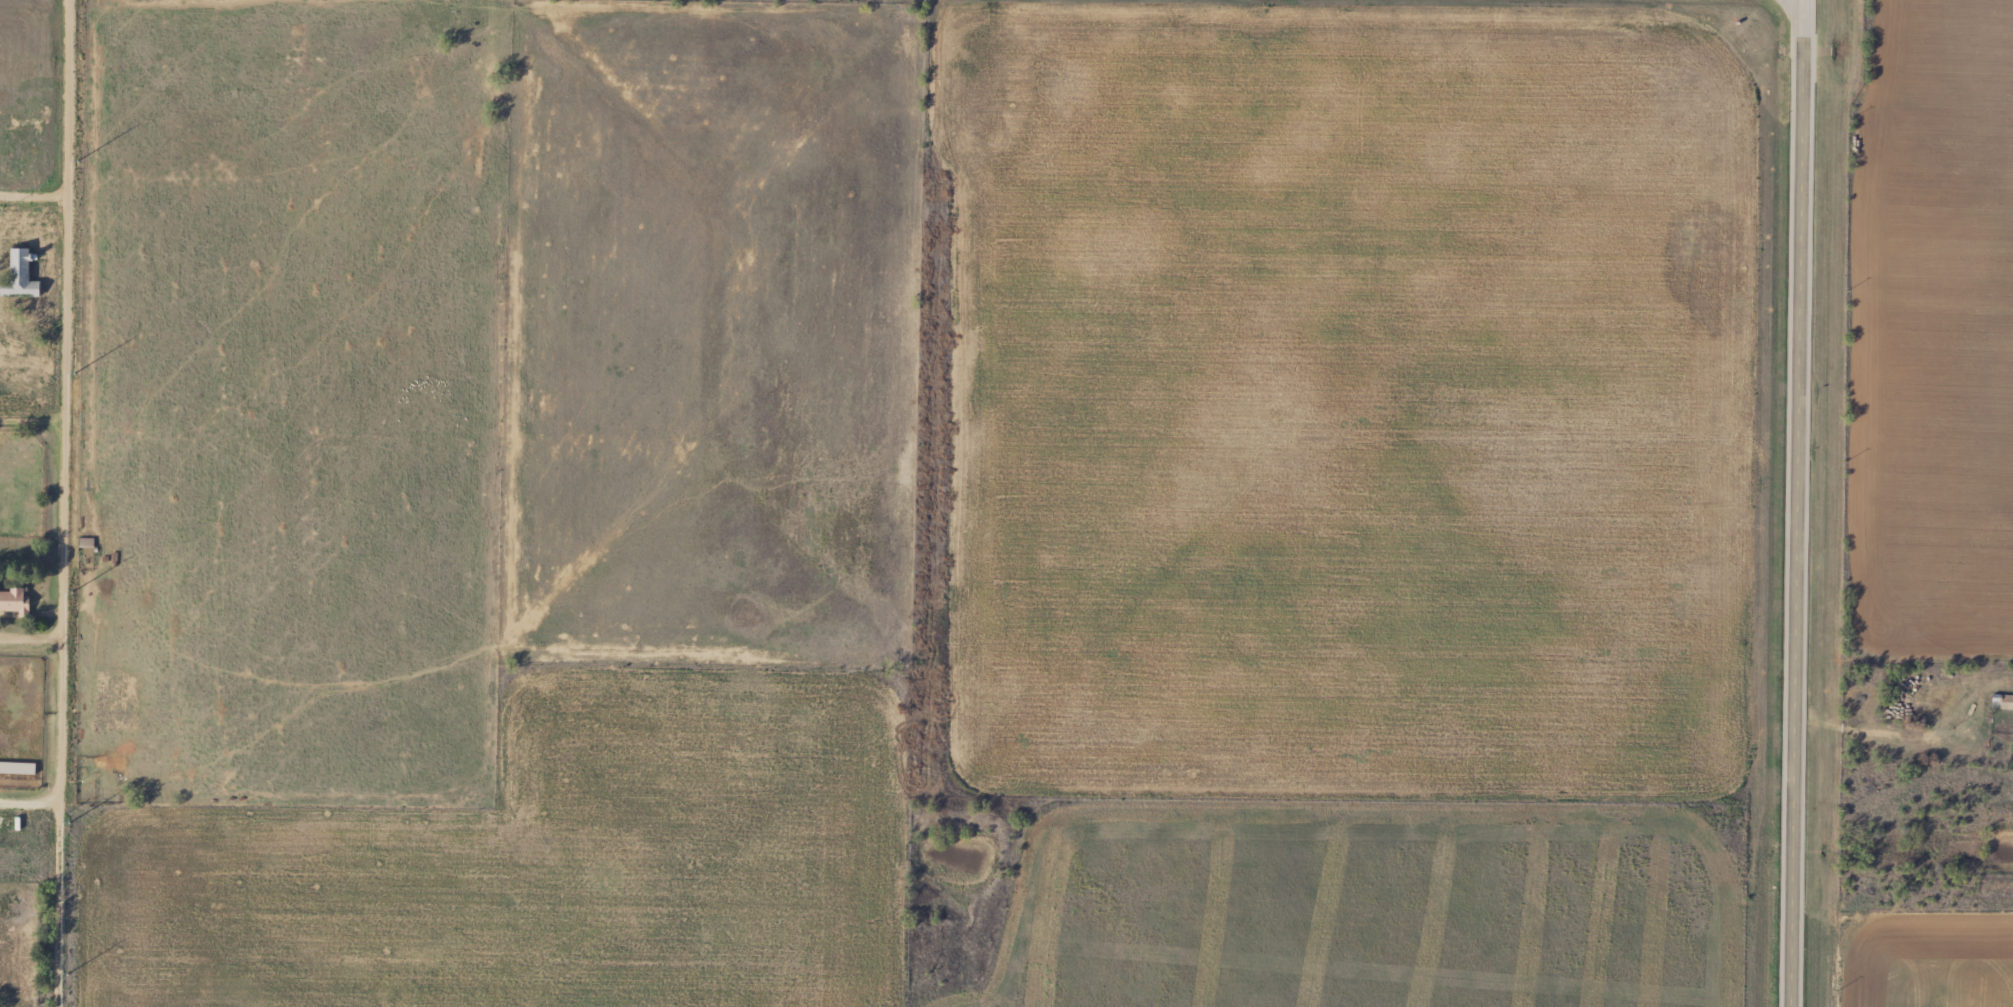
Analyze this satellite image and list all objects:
road: (30, 197)
building: (16, 276)
road: (27, 421)
road: (56, 503)
road: (1797, 503)
building: (11, 600)
road: (29, 641)
building: (2000, 702)
building: (1904, 704)
road: (1917, 746)
building: (14, 768)
road: (28, 798)

